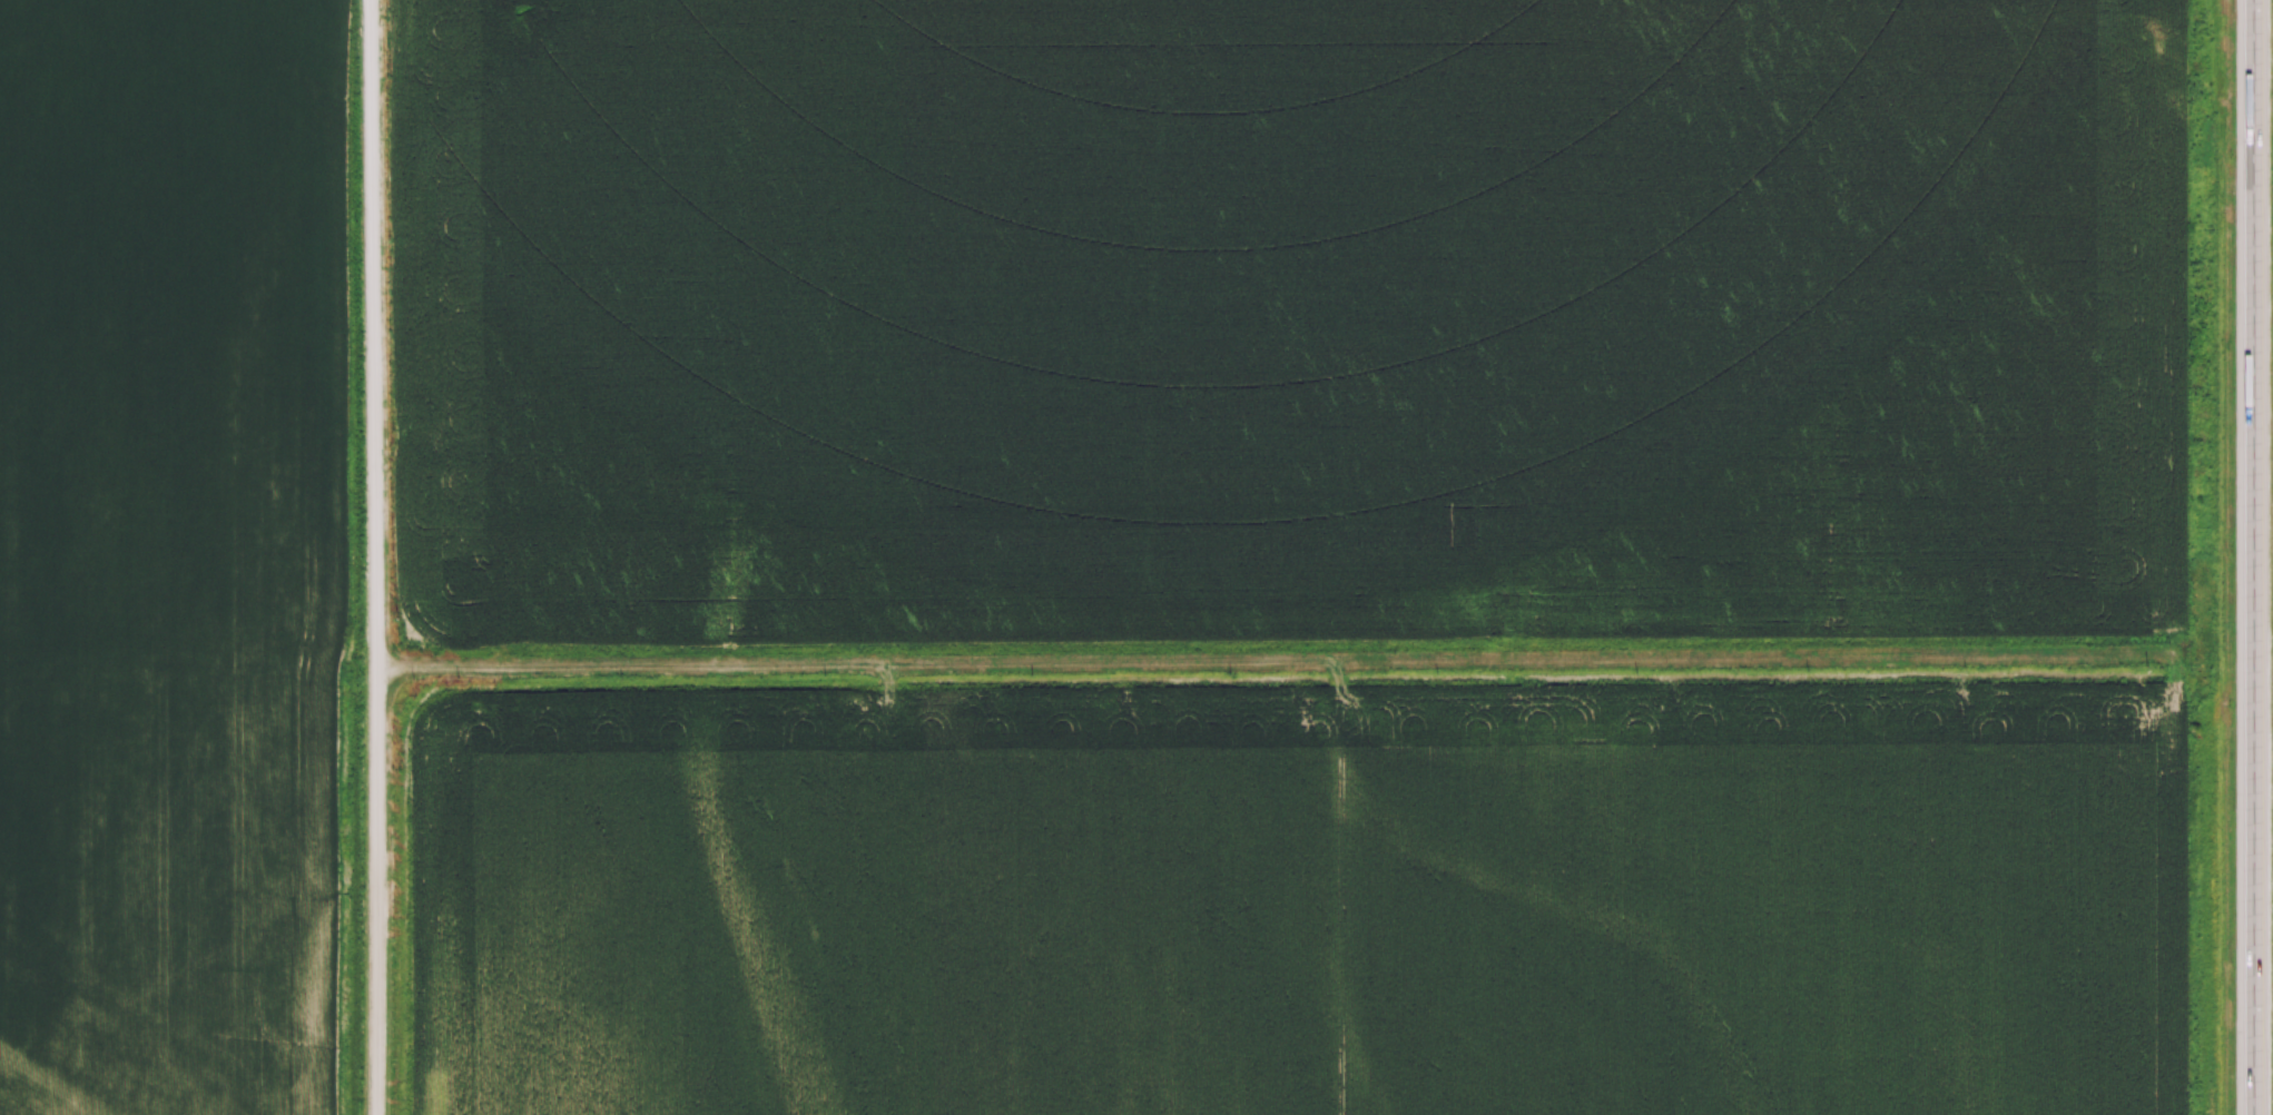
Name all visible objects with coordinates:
road: (375, 556)
crop: (1276, 556)
road: (2255, 556)

